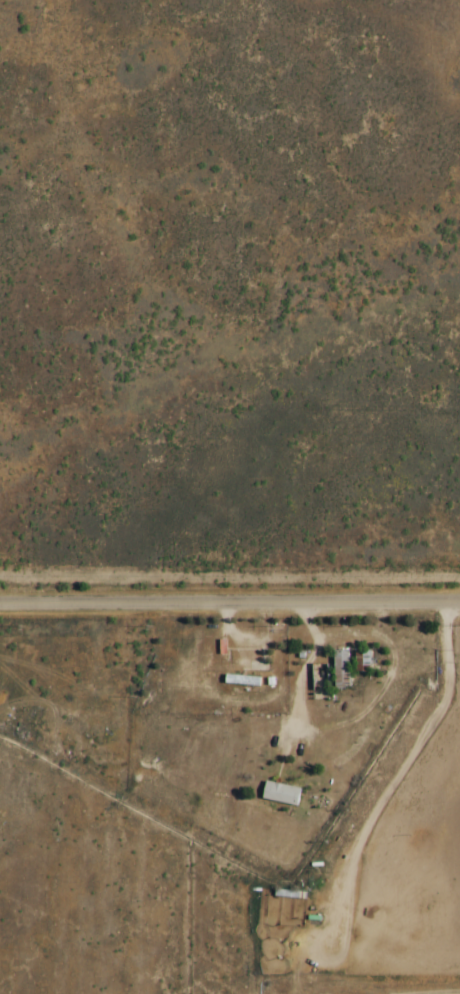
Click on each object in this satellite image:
road: (230, 595)
building: (365, 660)
building: (344, 667)
building: (284, 793)

